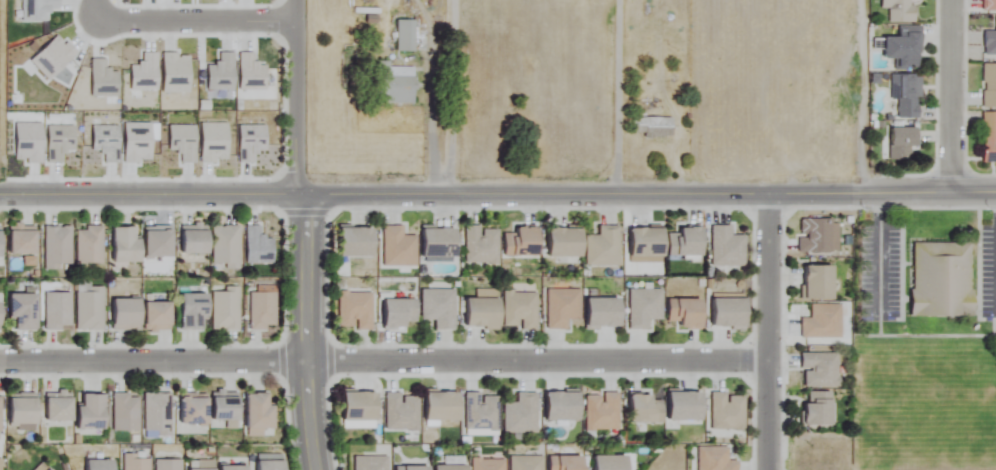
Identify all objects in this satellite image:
building: (988, 5)
road: (89, 10)
building: (898, 11)
road: (192, 21)
building: (405, 36)
building: (989, 42)
building: (904, 50)
building: (397, 86)
building: (988, 86)
building: (906, 95)
road: (452, 98)
road: (608, 98)
road: (960, 98)
road: (855, 99)
building: (653, 127)
building: (988, 137)
building: (902, 144)
crop: (0, 156)
road: (302, 197)
road: (800, 201)
road: (305, 234)
building: (23, 240)
building: (195, 240)
building: (159, 243)
building: (356, 243)
building: (521, 243)
building: (565, 243)
building: (647, 243)
building: (685, 243)
building: (1, 244)
building: (439, 244)
building: (480, 245)
building: (89, 246)
building: (126, 246)
building: (57, 248)
building: (224, 248)
building: (397, 248)
building: (602, 248)
building: (726, 248)
road: (878, 256)
building: (941, 280)
building: (817, 283)
building: (437, 308)
building: (561, 308)
building: (643, 308)
building: (89, 310)
building: (223, 310)
building: (518, 310)
building: (56, 311)
building: (261, 311)
building: (354, 311)
building: (24, 312)
building: (193, 312)
building: (481, 313)
building: (685, 313)
building: (729, 313)
building: (126, 314)
building: (602, 314)
building: (399, 315)
building: (158, 316)
building: (0, 317)
building: (821, 322)
road: (775, 336)
road: (387, 364)
building: (819, 370)
building: (225, 407)
building: (360, 407)
building: (442, 407)
building: (562, 407)
building: (685, 407)
building: (59, 408)
building: (817, 409)
building: (193, 410)
building: (645, 410)
building: (23, 412)
building: (601, 412)
building: (727, 412)
building: (92, 413)
building: (124, 413)
building: (259, 413)
building: (401, 413)
building: (480, 413)
building: (0, 414)
building: (155, 414)
building: (520, 415)
building: (713, 459)
building: (135, 462)
building: (369, 463)
building: (524, 463)
building: (565, 463)
building: (610, 463)
building: (99, 465)
building: (167, 465)
building: (487, 465)
building: (270, 466)
building: (233, 468)
building: (411, 468)
building: (451, 468)

